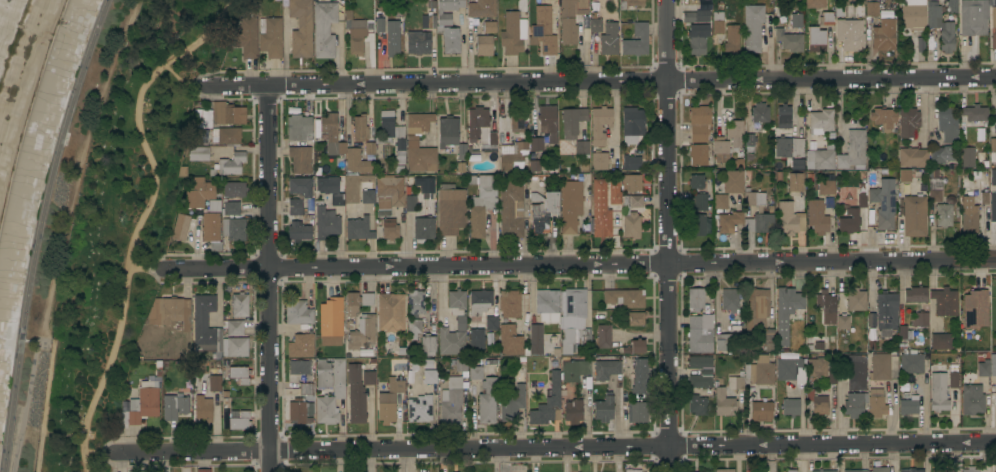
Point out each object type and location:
building: (992, 2)
building: (631, 3)
building: (815, 3)
building: (431, 4)
building: (951, 6)
building: (481, 8)
building: (871, 9)
building: (838, 11)
building: (913, 14)
building: (691, 16)
building: (973, 17)
building: (570, 19)
building: (826, 19)
building: (717, 23)
building: (445, 24)
building: (594, 24)
building: (379, 25)
building: (992, 26)
building: (489, 27)
building: (940, 27)
building: (301, 28)
building: (324, 28)
building: (753, 28)
building: (543, 30)
building: (355, 33)
building: (513, 33)
building: (791, 34)
building: (850, 34)
building: (247, 35)
building: (883, 35)
building: (270, 37)
building: (392, 37)
building: (697, 39)
building: (816, 39)
building: (636, 40)
building: (731, 40)
building: (418, 43)
building: (920, 44)
building: (484, 45)
building: (608, 45)
road: (631, 80)
road: (236, 84)
road: (931, 102)
road: (922, 104)
building: (759, 113)
building: (974, 113)
building: (227, 114)
building: (784, 116)
building: (883, 118)
building: (572, 121)
building: (820, 121)
building: (908, 122)
building: (417, 123)
building: (517, 123)
building: (700, 123)
building: (947, 124)
building: (600, 125)
building: (632, 125)
building: (329, 126)
building: (299, 128)
building: (359, 128)
building: (480, 129)
building: (734, 132)
building: (228, 135)
building: (391, 135)
building: (450, 135)
building: (542, 136)
building: (207, 137)
building: (750, 142)
building: (789, 147)
building: (340, 148)
building: (369, 148)
building: (582, 148)
building: (720, 149)
building: (852, 150)
building: (992, 152)
building: (198, 154)
building: (698, 154)
building: (513, 156)
building: (943, 156)
building: (420, 157)
building: (913, 157)
building: (967, 157)
building: (300, 159)
building: (820, 159)
building: (599, 160)
building: (632, 160)
building: (356, 161)
building: (228, 164)
building: (797, 164)
building: (584, 167)
building: (906, 175)
building: (992, 177)
building: (748, 178)
building: (696, 181)
building: (632, 182)
building: (795, 182)
building: (300, 186)
building: (934, 186)
building: (426, 187)
building: (826, 187)
building: (234, 189)
building: (330, 189)
building: (382, 192)
building: (199, 194)
building: (973, 198)
building: (862, 199)
building: (701, 202)
building: (726, 202)
building: (884, 203)
building: (411, 204)
building: (571, 204)
building: (603, 204)
building: (214, 205)
building: (482, 205)
building: (295, 207)
building: (511, 207)
building: (993, 207)
building: (230, 209)
building: (450, 210)
building: (543, 211)
building: (757, 214)
building: (943, 215)
building: (631, 216)
building: (817, 216)
building: (914, 216)
road: (142, 218)
building: (790, 218)
building: (849, 221)
building: (326, 223)
park: (110, 225)
building: (697, 225)
building: (180, 227)
building: (211, 227)
building: (424, 228)
building: (235, 229)
building: (359, 229)
building: (389, 229)
road: (38, 232)
building: (298, 232)
road: (67, 234)
road: (669, 235)
road: (633, 264)
road: (215, 268)
road: (270, 277)
building: (915, 294)
building: (624, 298)
building: (695, 298)
building: (729, 300)
building: (855, 300)
building: (945, 301)
building: (357, 302)
building: (415, 302)
building: (479, 303)
building: (509, 303)
building: (239, 305)
building: (547, 305)
building: (826, 306)
building: (975, 309)
building: (171, 310)
building: (786, 311)
building: (298, 312)
building: (390, 312)
building: (995, 312)
building: (887, 313)
building: (759, 316)
building: (330, 317)
building: (634, 318)
building: (871, 320)
building: (919, 320)
building: (460, 321)
building: (574, 321)
building: (843, 322)
building: (491, 323)
building: (234, 328)
building: (413, 329)
building: (214, 332)
building: (362, 332)
building: (904, 332)
building: (699, 333)
building: (603, 336)
building: (476, 339)
building: (535, 339)
building: (510, 341)
building: (727, 341)
building: (940, 341)
building: (983, 343)
building: (428, 345)
building: (300, 346)
building: (633, 347)
building: (910, 360)
building: (459, 364)
building: (993, 365)
building: (301, 367)
building: (880, 367)
building: (816, 368)
building: (983, 368)
building: (605, 369)
building: (790, 370)
building: (700, 371)
building: (759, 371)
building: (857, 372)
building: (475, 373)
building: (323, 374)
building: (239, 375)
building: (429, 376)
building: (639, 376)
building: (368, 378)
building: (214, 379)
building: (953, 380)
building: (736, 381)
building: (832, 381)
building: (903, 385)
building: (306, 388)
building: (558, 391)
building: (938, 392)
building: (355, 395)
building: (332, 396)
building: (971, 399)
road: (47, 400)
building: (389, 401)
building: (487, 401)
building: (514, 401)
building: (451, 402)
building: (724, 403)
building: (816, 403)
building: (141, 404)
building: (854, 404)
building: (878, 404)
building: (697, 405)
building: (908, 405)
building: (174, 406)
building: (790, 407)
building: (604, 408)
building: (419, 409)
building: (201, 410)
building: (300, 411)
building: (573, 411)
building: (637, 411)
building: (761, 411)
building: (236, 420)
road: (633, 446)
road: (189, 451)
building: (879, 469)
building: (970, 469)
building: (203, 470)
building: (724, 470)
building: (911, 470)
building: (632, 471)
building: (791, 471)
building: (824, 471)
building: (856, 471)
building: (939, 471)

